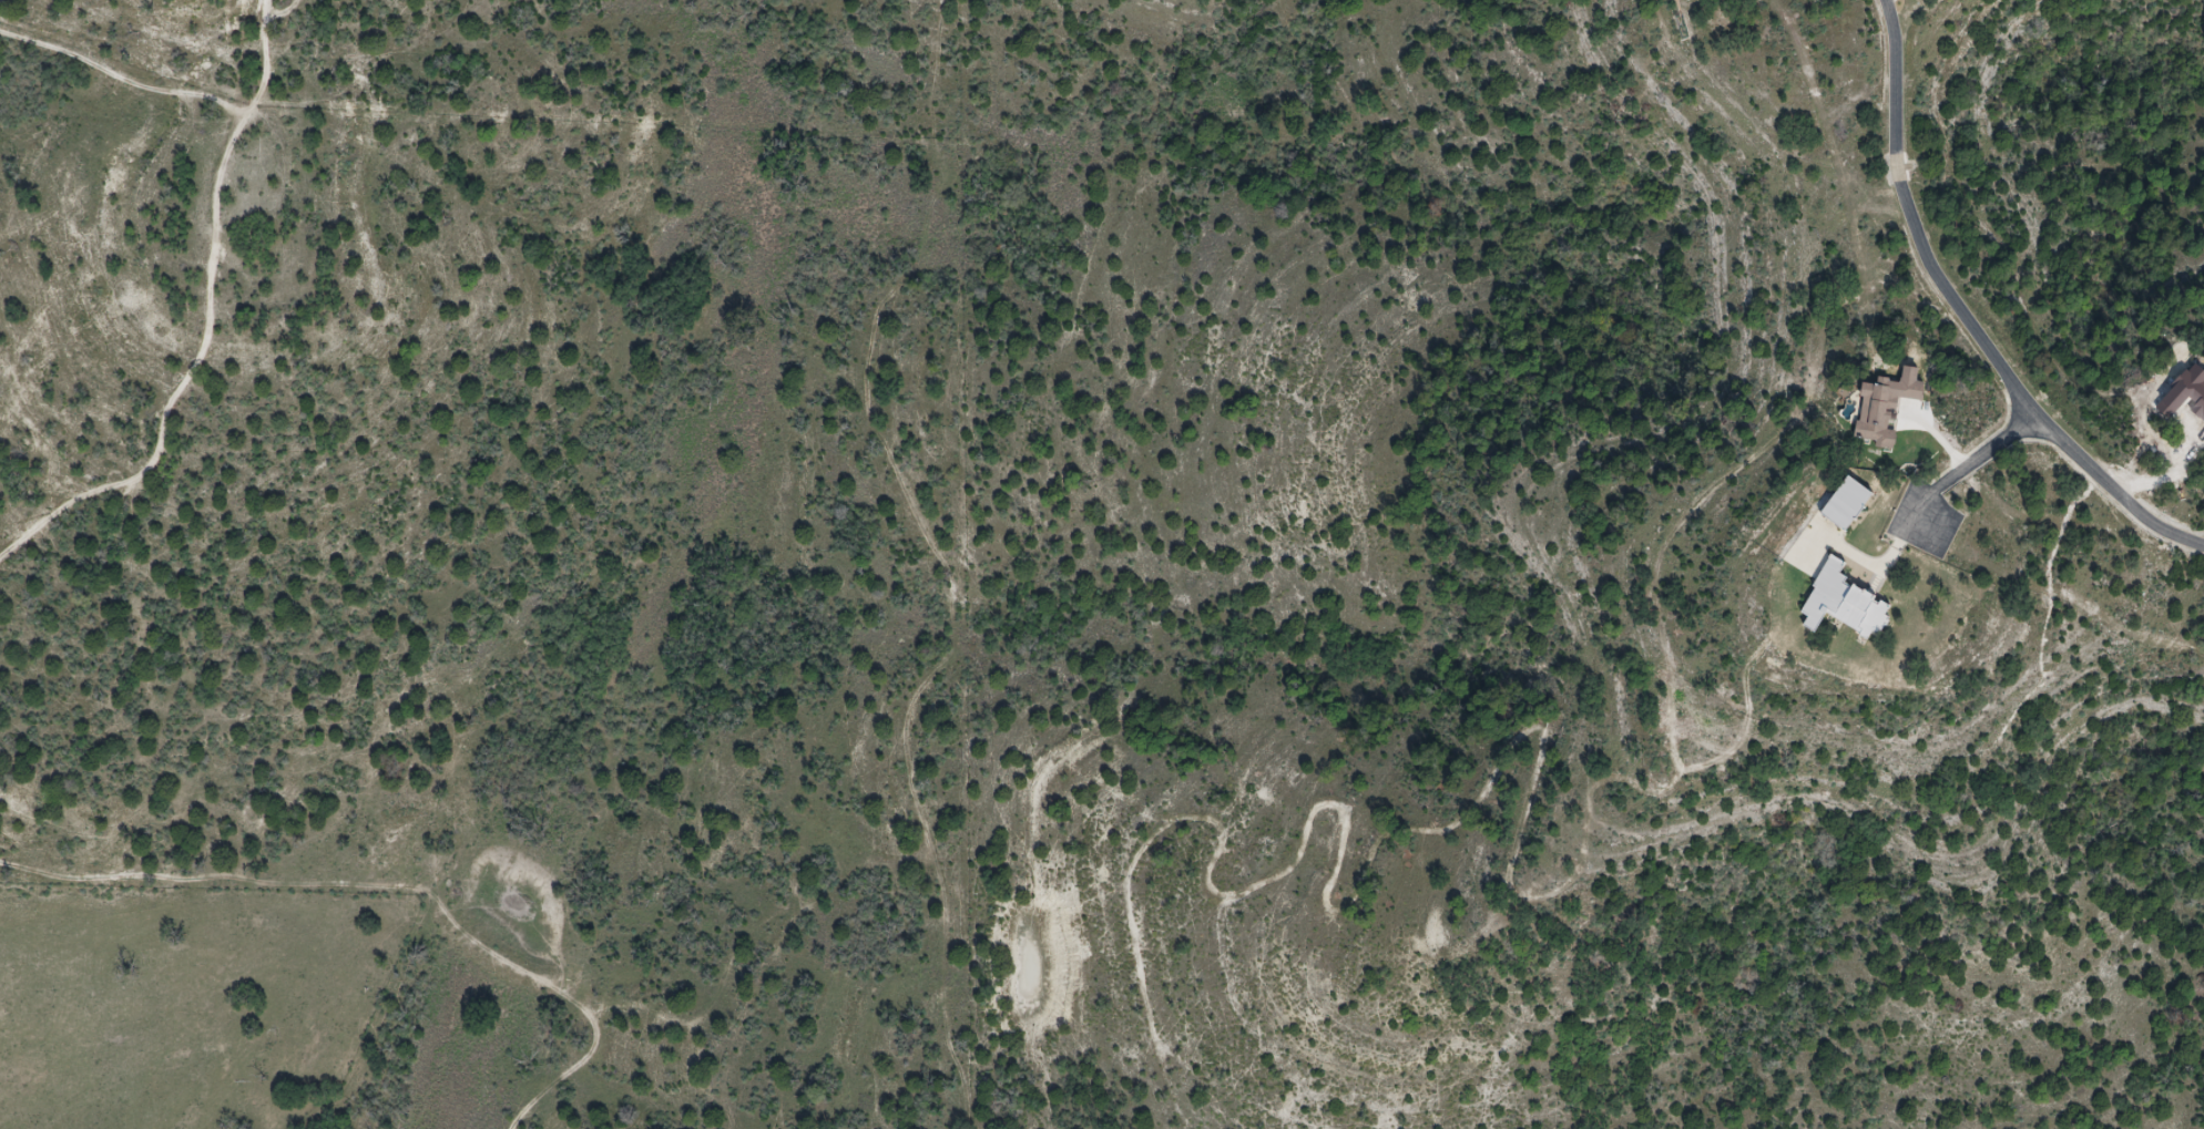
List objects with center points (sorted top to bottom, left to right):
road: (1973, 312)
road: (1978, 461)

